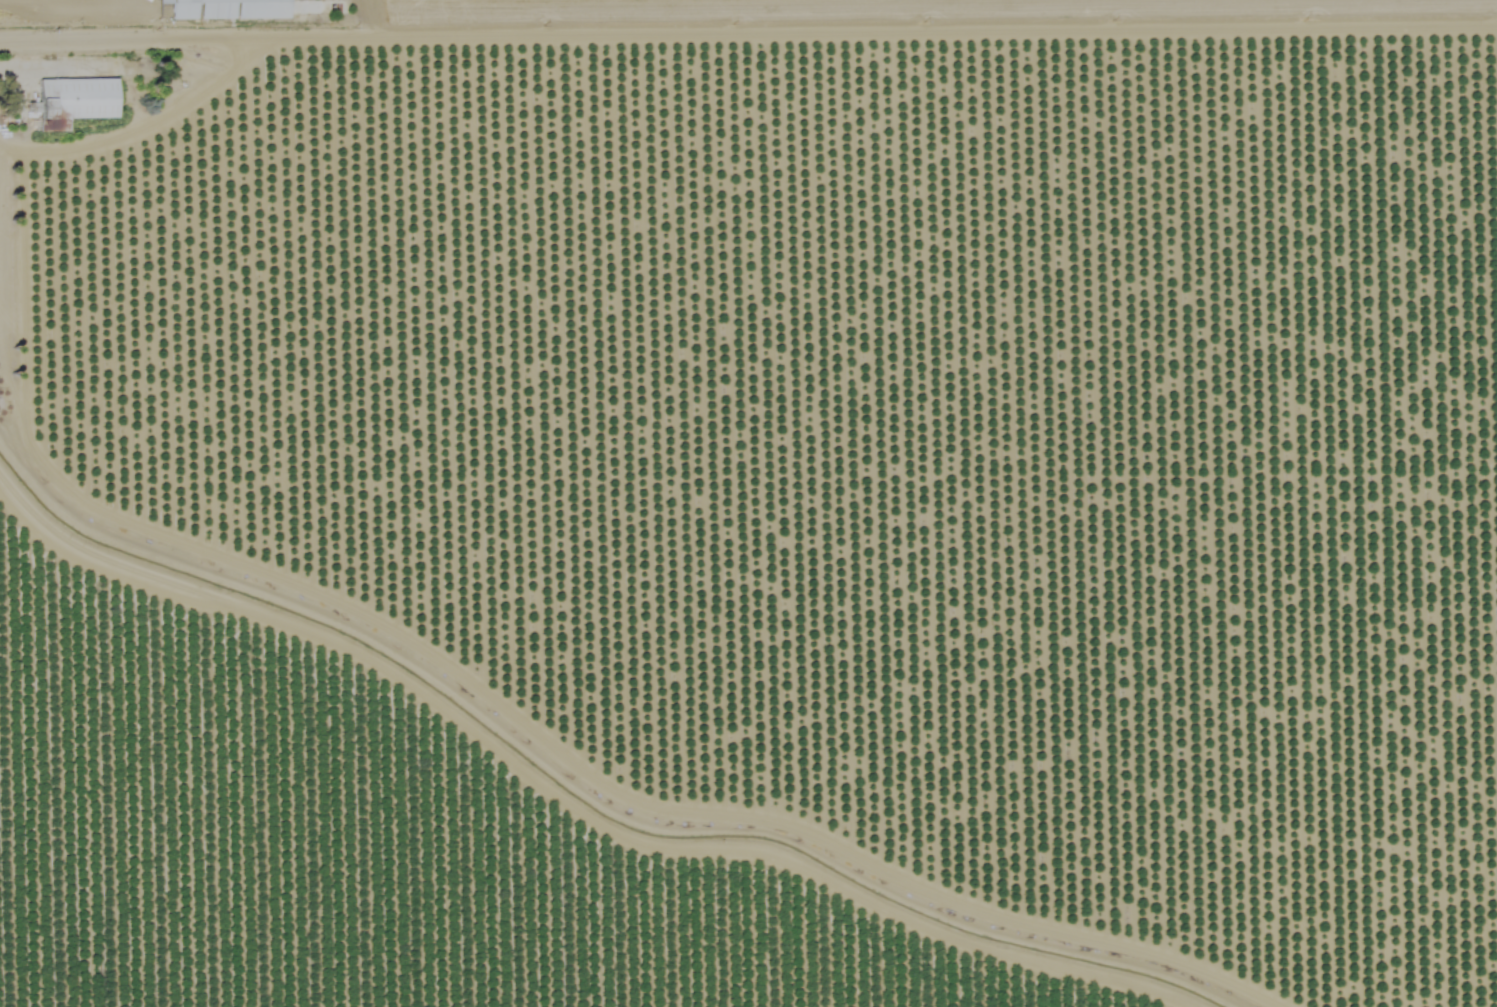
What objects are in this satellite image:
building: (242, 10)
crop: (893, 15)
road: (748, 31)
building: (70, 98)
road: (138, 123)
crop: (867, 451)
crop: (349, 848)

